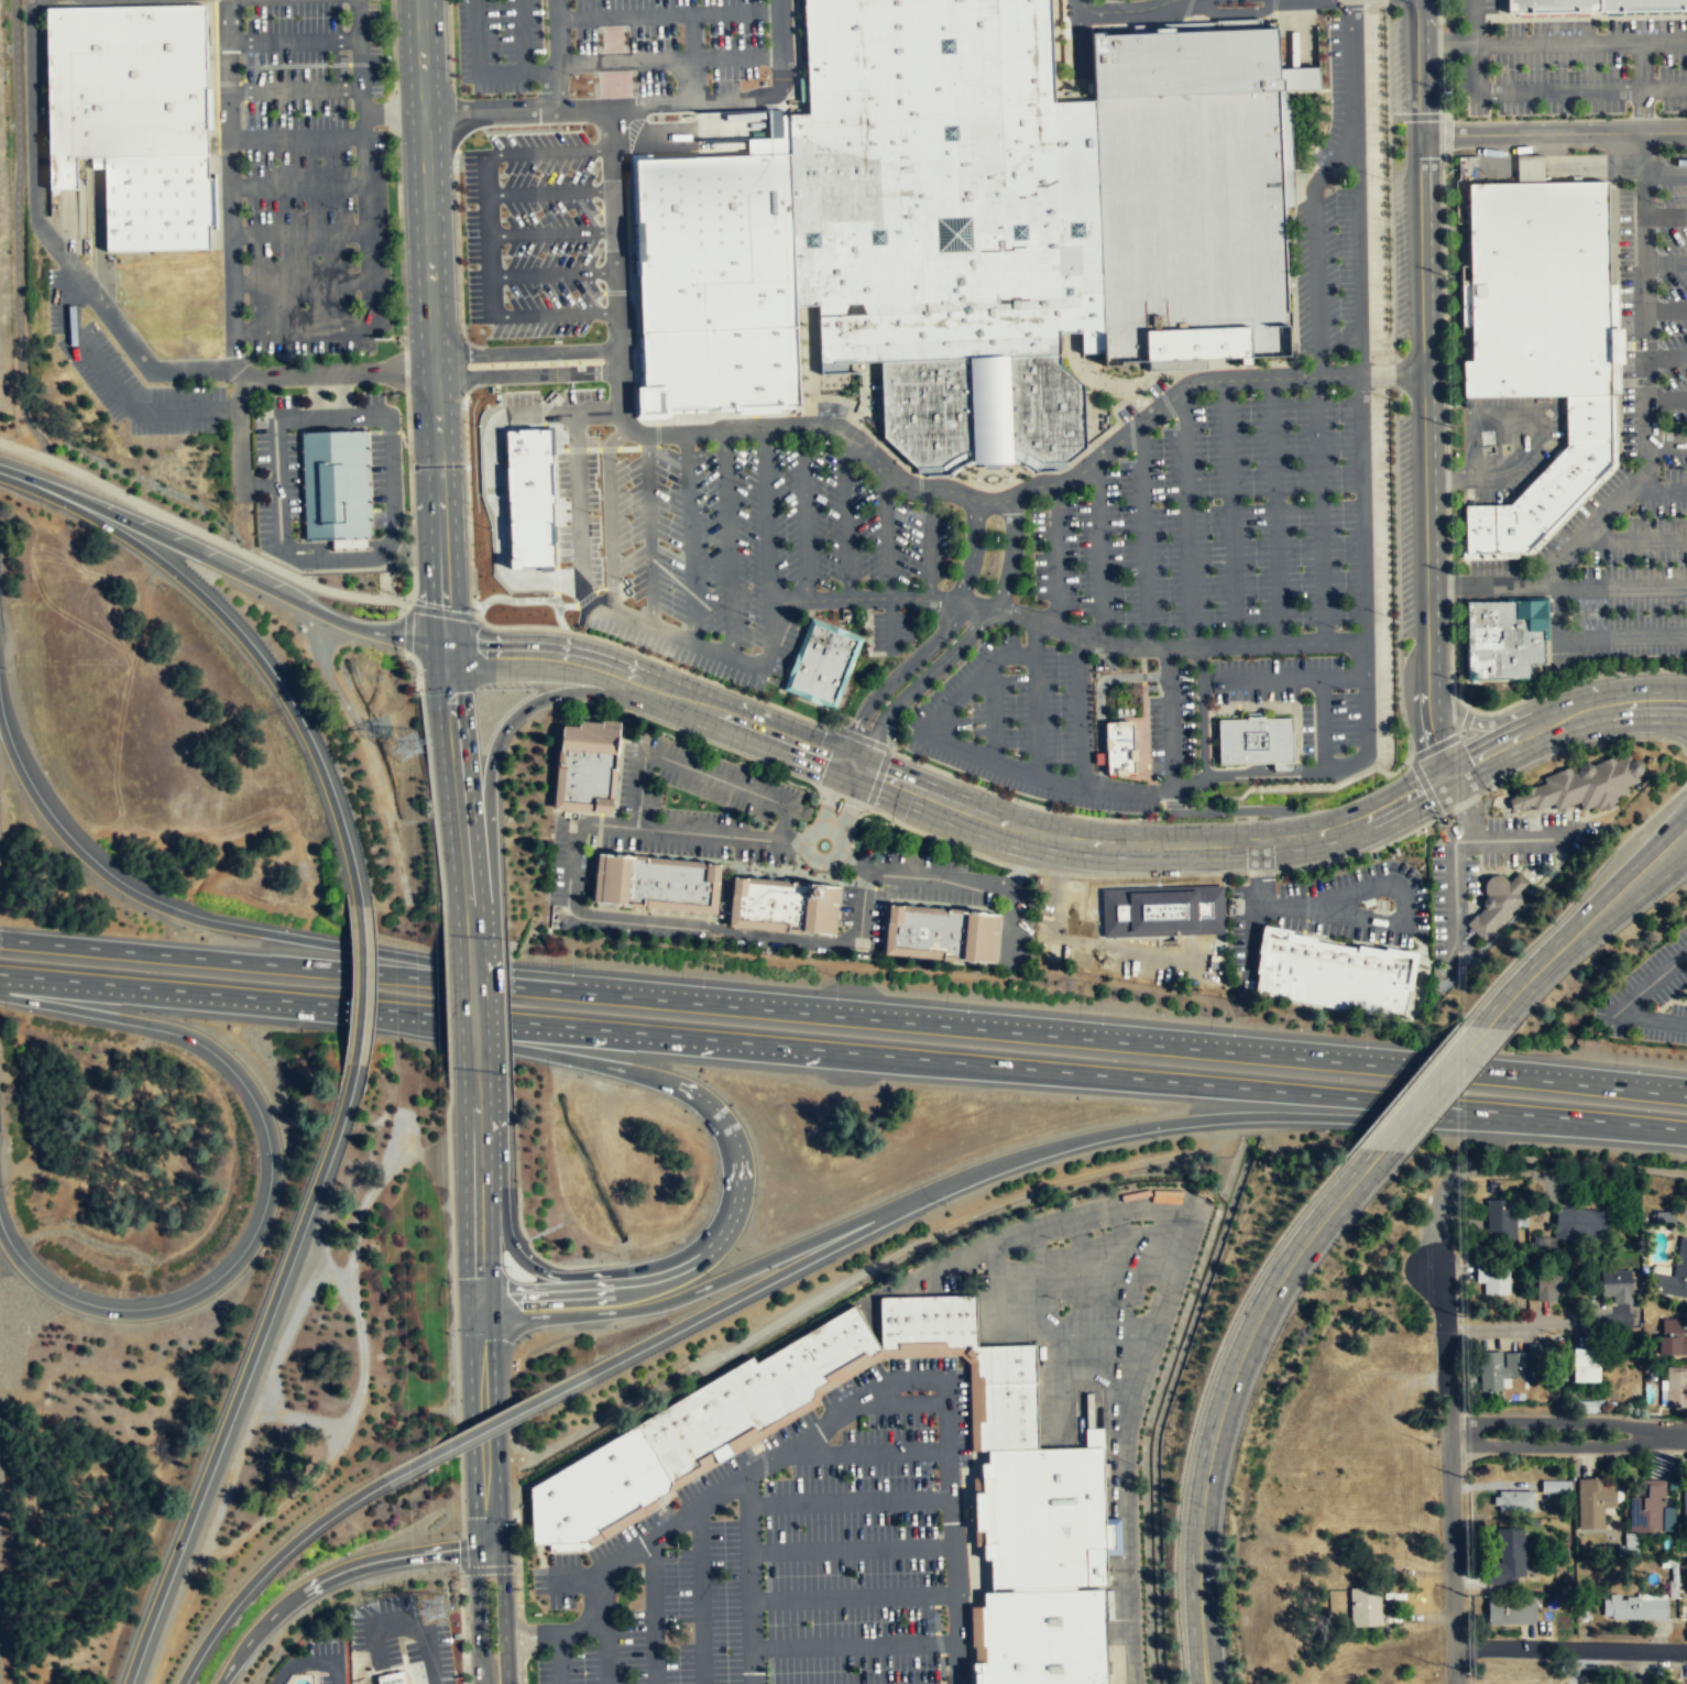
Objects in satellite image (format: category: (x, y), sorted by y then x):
parking lot: (1105, 0)
road: (1160, 1)
road: (1383, 1)
building: (1553, 4)
building: (1642, 4)
road: (1114, 6)
road: (554, 9)
road: (736, 11)
road: (1122, 11)
road: (1236, 11)
road: (1438, 13)
road: (623, 15)
road: (1587, 15)
road: (1494, 17)
road: (1475, 19)
road: (1452, 20)
road: (1296, 30)
road: (1078, 34)
road: (521, 35)
road: (692, 36)
road: (294, 40)
road: (1581, 42)
parking lot: (497, 43)
road: (1439, 43)
road: (1446, 44)
road: (449, 45)
parking lot: (665, 46)
road: (795, 53)
road: (736, 58)
road: (1385, 59)
road: (624, 61)
road: (555, 62)
road: (1417, 66)
street lamp: (452, 72)
road: (479, 72)
road: (693, 80)
building: (123, 84)
road: (1439, 86)
road: (1642, 87)
road: (295, 91)
road: (1535, 91)
street lamp: (1384, 99)
road: (709, 100)
road: (488, 108)
road: (392, 112)
road: (1417, 117)
road: (453, 120)
road: (1553, 132)
road: (1447, 134)
road: (296, 139)
road: (551, 150)
road: (1595, 164)
building: (1529, 167)
road: (488, 173)
road: (1665, 174)
parking lot: (302, 176)
road: (230, 183)
road: (297, 186)
road: (1357, 186)
road: (552, 192)
building: (1190, 193)
building: (155, 203)
street lamp: (1657, 204)
road: (489, 214)
road: (1665, 215)
building: (946, 220)
street lamp: (1387, 221)
road: (66, 226)
road: (364, 231)
parking lot: (534, 231)
road: (17, 232)
road: (554, 232)
road: (298, 234)
road: (100, 239)
road: (1389, 239)
road: (458, 240)
road: (1314, 250)
road: (490, 254)
road: (617, 256)
road: (1665, 261)
road: (555, 273)
road: (299, 281)
building: (713, 283)
road: (64, 287)
building: (1537, 287)
road: (491, 294)
street lamp: (1659, 297)
road: (1665, 308)
road: (1443, 309)
road: (556, 313)
road: (112, 319)
street lamp: (1389, 345)
road: (526, 352)
road: (1666, 358)
road: (462, 364)
road: (527, 373)
road: (1390, 373)
road: (1406, 373)
street lamp: (1659, 387)
road: (317, 394)
road: (1666, 398)
road: (343, 401)
building: (1466, 402)
road: (130, 405)
parking lot: (830, 408)
road: (534, 411)
building: (1588, 415)
road: (320, 416)
road: (241, 427)
road: (1535, 431)
road: (1645, 435)
road: (1666, 440)
parking lot: (1509, 442)
parking lot: (1624, 446)
road: (1424, 457)
road: (390, 458)
road: (438, 458)
street lamp: (1662, 466)
street lamp: (1390, 467)
road: (276, 472)
street lamp: (976, 478)
fountain: (992, 478)
street lamp: (1008, 478)
road: (1447, 478)
road: (260, 484)
building: (335, 484)
street lamp: (745, 485)
road: (1657, 490)
building: (1549, 493)
building: (525, 494)
road: (580, 495)
road: (970, 499)
road: (1362, 507)
road: (467, 509)
road: (1318, 509)
road: (1274, 511)
road: (1230, 512)
road: (802, 514)
road: (767, 515)
road: (845, 515)
road: (610, 516)
road: (1187, 517)
parking lot: (1213, 523)
building: (1479, 527)
road: (648, 531)
road: (201, 532)
road: (886, 532)
road: (1447, 532)
road: (1143, 535)
road: (499, 536)
road: (689, 537)
street lamp: (994, 537)
road: (1635, 538)
road: (729, 543)
road: (929, 544)
parking lot: (756, 547)
road: (1099, 551)
road: (1055, 555)
road: (1010, 556)
road: (343, 558)
street lamp: (1577, 564)
road: (220, 567)
road: (1395, 572)
parking lot: (1380, 580)
street lamp: (910, 582)
road: (1449, 587)
street lamp: (1393, 590)
road: (1622, 590)
road: (1557, 603)
road: (972, 604)
road: (810, 605)
road: (426, 610)
street lamp: (1569, 614)
road: (461, 615)
street lamp: (746, 615)
road: (891, 625)
road: (839, 627)
road: (406, 628)
parking lot: (891, 631)
road: (241, 637)
road: (867, 637)
road: (1034, 637)
building: (1503, 637)
road: (1622, 638)
road: (933, 643)
road: (692, 644)
road: (1267, 644)
traffic signals: (447, 649)
road: (1142, 653)
road: (1449, 658)
road: (580, 660)
building: (824, 663)
road: (667, 664)
road: (1142, 665)
street lamp: (1014, 668)
road: (1143, 676)
road: (1261, 679)
road: (1575, 679)
road: (1322, 680)
road: (918, 684)
road: (781, 686)
road: (1681, 698)
road: (1099, 700)
road: (525, 707)
road: (1081, 710)
street lamp: (1395, 710)
road: (993, 711)
road: (1201, 711)
road: (1037, 714)
road: (1564, 719)
road: (1634, 720)
road: (1501, 722)
road: (1170, 724)
road: (1144, 734)
road: (862, 739)
road: (1367, 739)
building: (1255, 740)
road: (1446, 740)
road: (1580, 745)
building: (1118, 746)
power tower: (407, 752)
road: (995, 759)
building: (582, 763)
road: (1262, 766)
road: (877, 778)
road: (429, 779)
road: (642, 779)
road: (1424, 785)
building: (1582, 785)
road: (1300, 786)
road: (1158, 791)
road: (614, 794)
road: (832, 795)
road: (1010, 798)
road: (848, 801)
road: (1182, 802)
road: (1464, 802)
road: (1174, 805)
road: (1468, 805)
road: (1163, 806)
road: (1245, 810)
road: (1443, 812)
road: (888, 817)
road: (1155, 817)
road: (852, 824)
road: (579, 831)
road: (598, 831)
road: (1657, 834)
road: (1529, 839)
road: (1073, 840)
fountain: (823, 844)
road: (961, 848)
road: (1360, 853)
road: (658, 854)
road: (811, 855)
road: (1669, 855)
road: (1062, 856)
road: (1022, 860)
road: (1021, 867)
road: (1039, 871)
road: (1260, 871)
road: (1059, 873)
road: (1258, 873)
road: (1304, 873)
road: (1159, 874)
building: (654, 879)
road: (957, 881)
road: (1453, 895)
road: (1570, 900)
building: (1497, 901)
building: (778, 903)
road: (1286, 904)
road: (1306, 904)
road: (1403, 904)
road: (862, 906)
building: (1161, 909)
road: (653, 912)
road: (709, 923)
road: (1584, 926)
building: (936, 930)
road: (266, 932)
road: (997, 937)
road: (1250, 939)
parking lot: (1120, 943)
road: (482, 944)
road: (1109, 949)
road: (470, 962)
road: (309, 966)
building: (1332, 971)
road: (360, 983)
road: (446, 988)
road: (205, 995)
road: (1623, 1007)
road: (1152, 1041)
road: (474, 1050)
road: (1000, 1065)
road: (645, 1076)
road: (1404, 1085)
road: (1435, 1089)
road: (1144, 1125)
road: (1639, 1125)
road: (274, 1181)
road: (478, 1183)
street lamp: (1422, 1189)
building: (1501, 1220)
building: (1581, 1225)
road: (512, 1245)
road: (451, 1249)
building: (1673, 1273)
road: (1080, 1275)
road: (589, 1276)
building: (1492, 1277)
road: (1036, 1279)
road: (1121, 1282)
building: (1552, 1283)
building: (1617, 1284)
road: (743, 1292)
parking lot: (1078, 1300)
road: (563, 1314)
traffic signals: (482, 1320)
building: (924, 1320)
road: (1027, 1320)
road: (1152, 1320)
road: (1510, 1327)
building: (1672, 1336)
road: (880, 1354)
building: (1003, 1363)
building: (1585, 1364)
building: (1501, 1368)
road: (243, 1374)
road: (891, 1381)
building: (1676, 1386)
building: (751, 1392)
road: (1201, 1393)
road: (1227, 1395)
road: (903, 1401)
road: (483, 1412)
building: (1005, 1414)
road: (482, 1428)
street lamp: (1192, 1432)
road: (1567, 1432)
road: (865, 1451)
road: (1450, 1473)
street lamp: (1463, 1476)
building: (1555, 1486)
building: (592, 1489)
road: (459, 1494)
road: (848, 1501)
building: (1512, 1501)
building: (1593, 1501)
building: (1685, 1503)
building: (1647, 1507)
building: (1040, 1514)
road: (653, 1538)
road: (283, 1549)
traffic signals: (485, 1549)
road: (851, 1549)
road: (460, 1553)
parking lot: (790, 1554)
building: (1507, 1557)
road: (486, 1568)
road: (329, 1575)
road: (749, 1578)
road: (516, 1582)
road: (954, 1590)
road: (700, 1595)
road: (853, 1597)
building: (1366, 1607)
power tower: (434, 1608)
building: (1634, 1608)
road: (653, 1611)
building: (1510, 1611)
road: (503, 1614)
road: (474, 1616)
road: (592, 1619)
road: (405, 1625)
road: (527, 1626)
road: (461, 1627)
road: (524, 1636)
building: (1040, 1637)
road: (605, 1643)
road: (854, 1644)
road: (526, 1645)
road: (1570, 1649)
road: (529, 1652)
road: (557, 1659)
parking lot: (326, 1660)
street lamp: (1181, 1661)
road: (311, 1663)
road: (1633, 1667)
road: (523, 1669)
street lamp: (1467, 1670)
building: (392, 1677)

